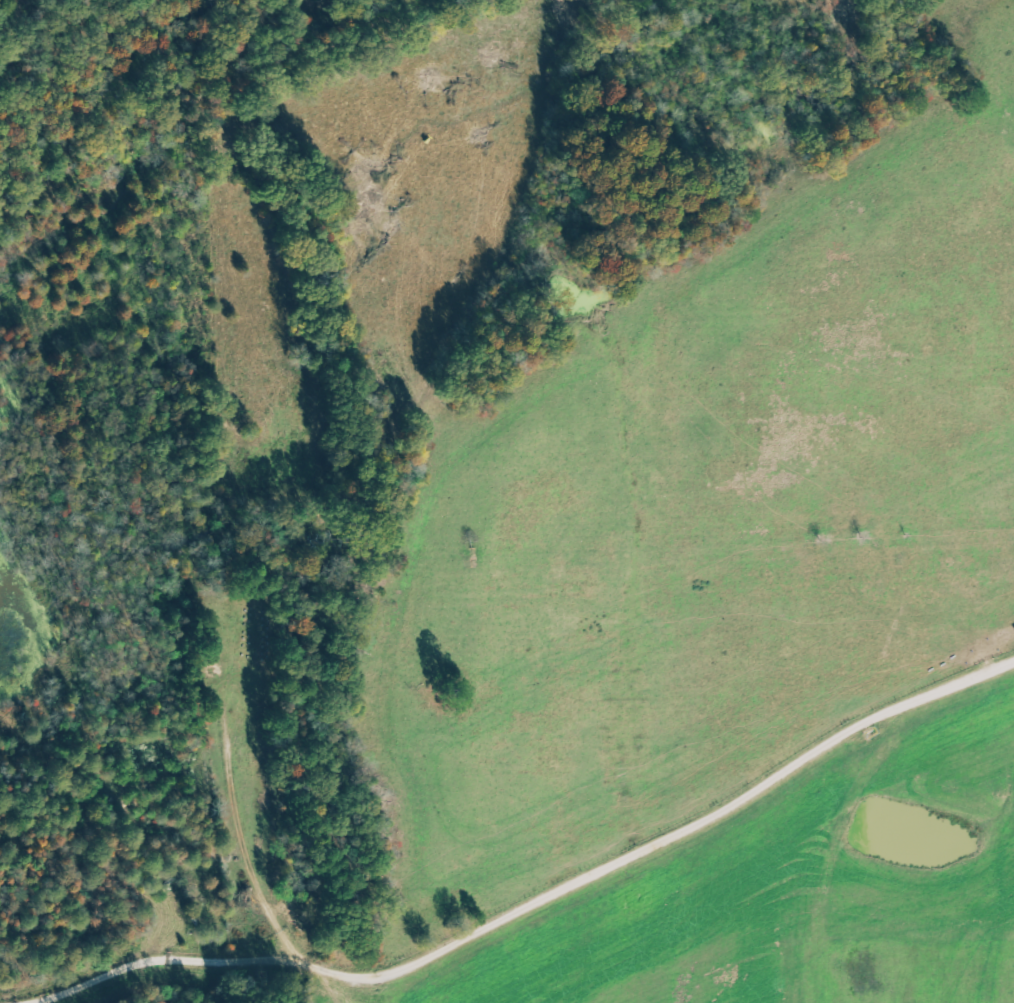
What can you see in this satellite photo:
road: (543, 899)

